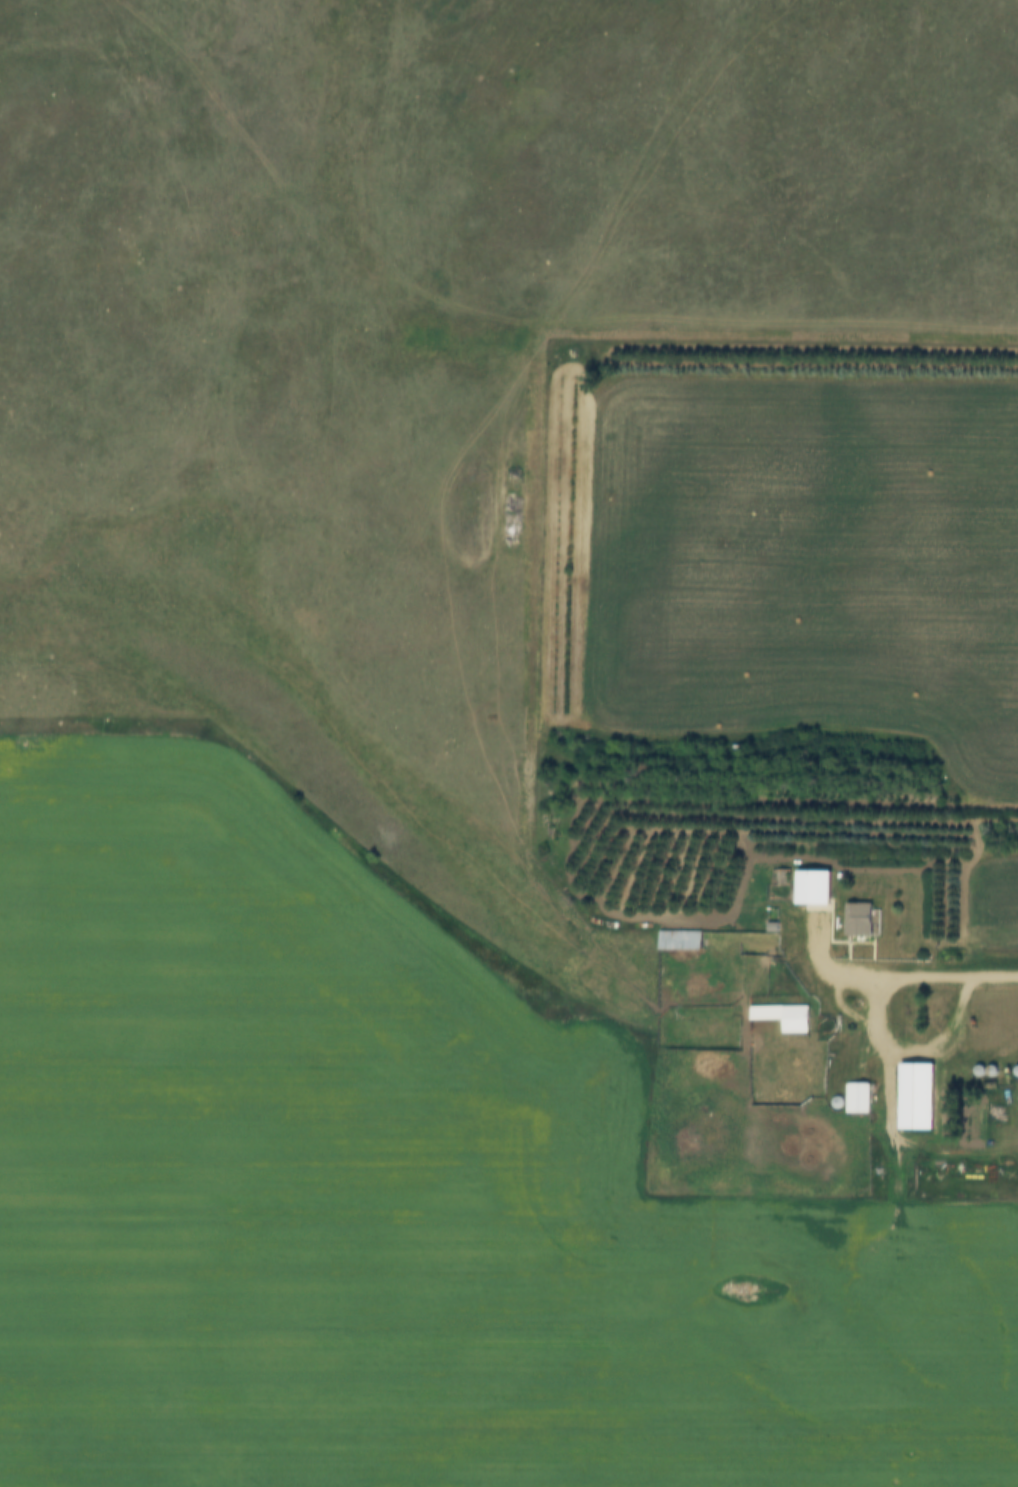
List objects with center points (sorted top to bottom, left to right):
building: (812, 888)
building: (859, 919)
building: (690, 939)
road: (994, 980)
building: (783, 1017)
road: (881, 1047)
building: (915, 1096)
building: (857, 1098)

